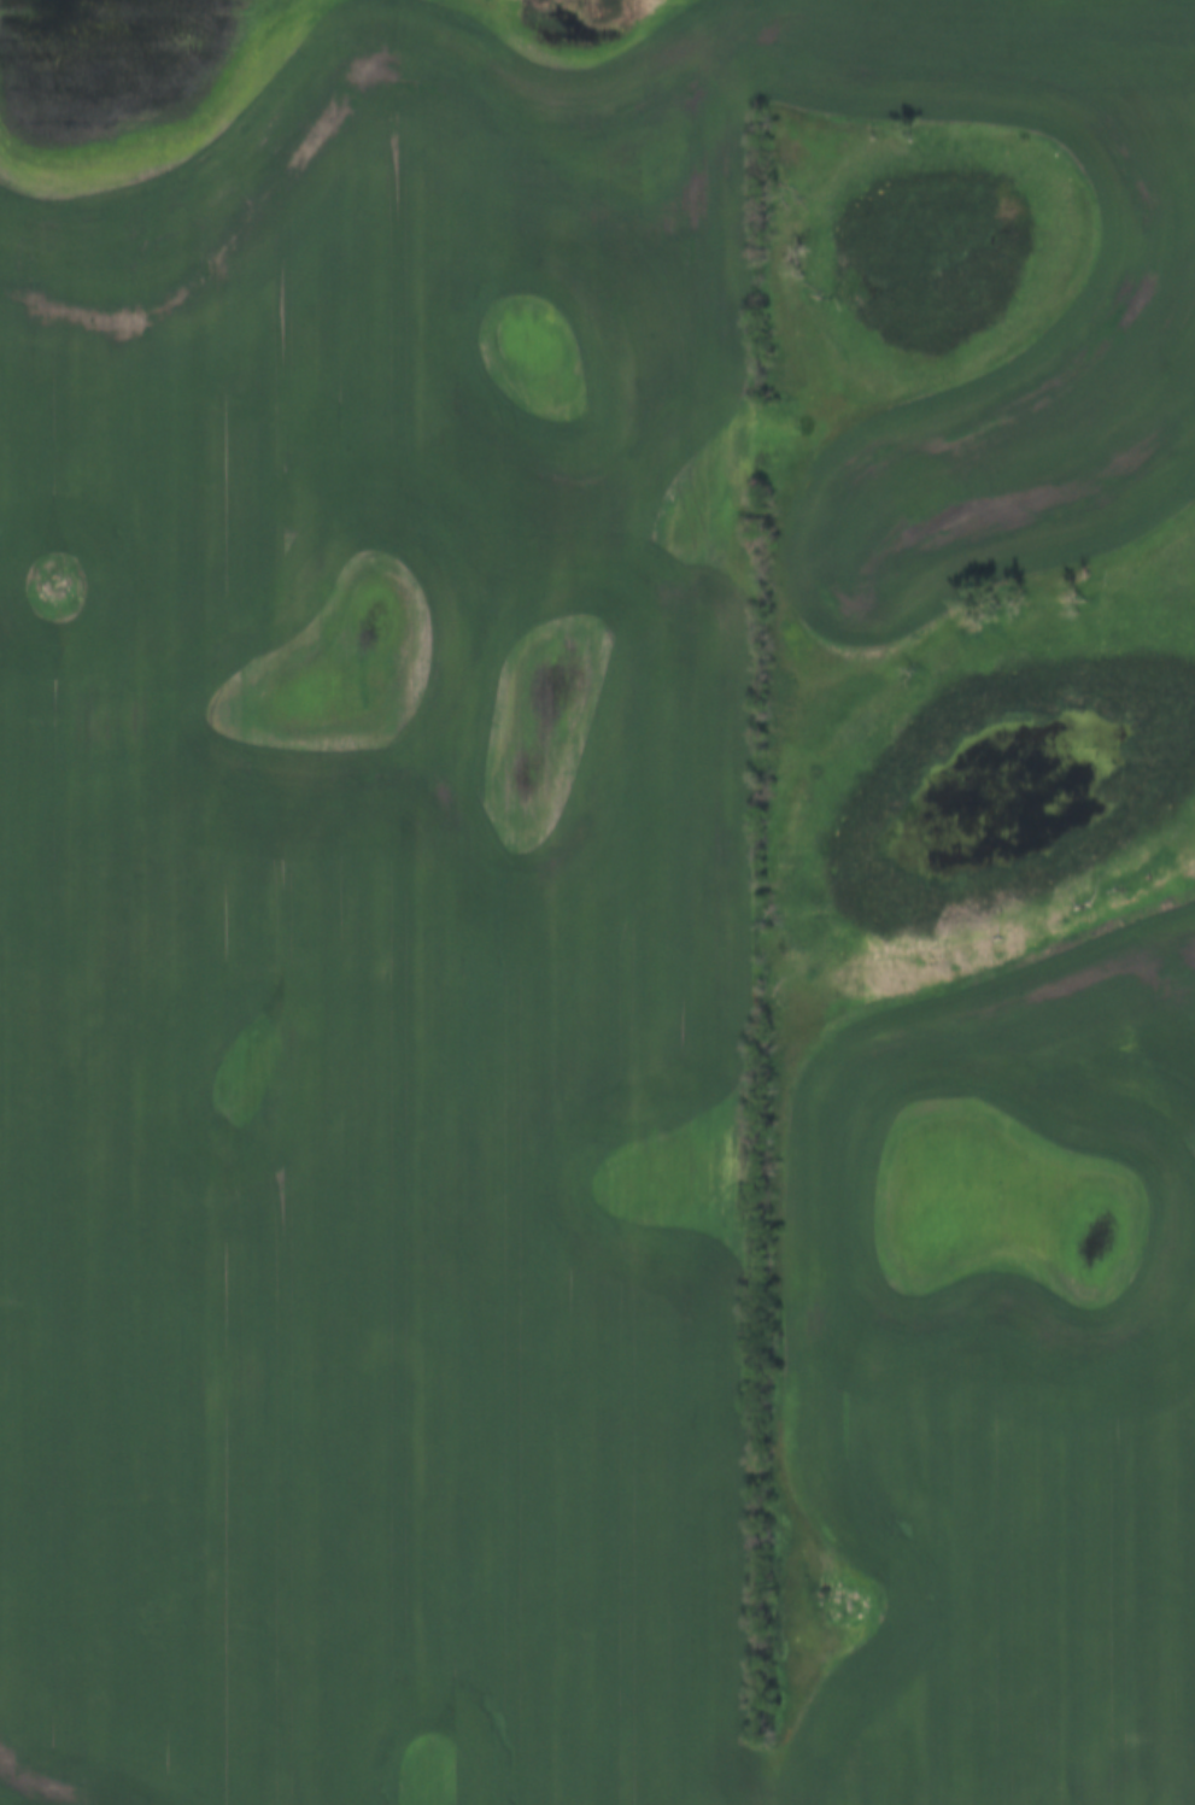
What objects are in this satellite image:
road: (382, 133)

